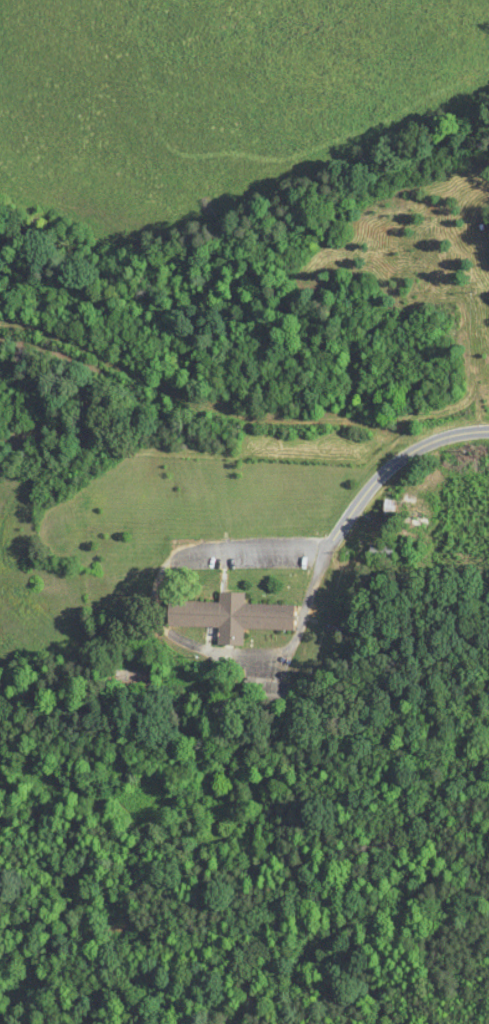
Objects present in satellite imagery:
road: (383, 473)
building: (403, 513)
building: (227, 616)
road: (157, 617)
building: (265, 690)

